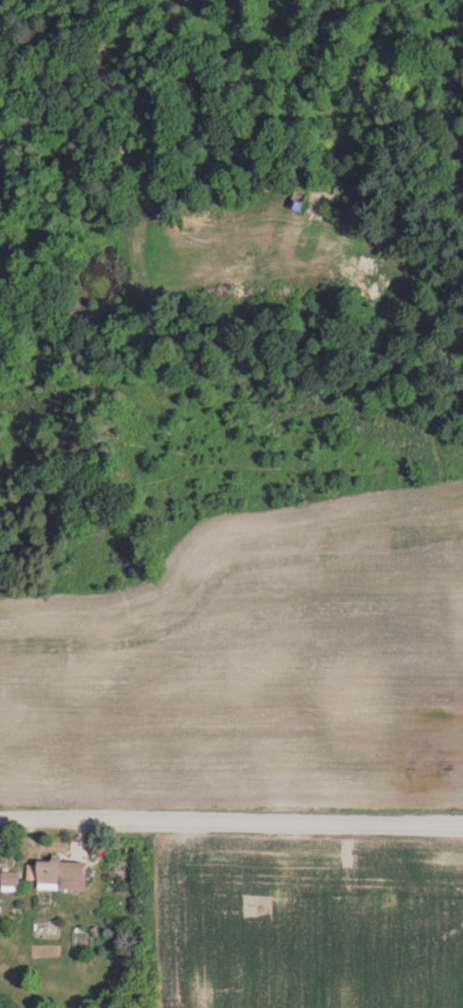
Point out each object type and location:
building: (299, 197)
road: (231, 824)
building: (60, 874)
building: (9, 880)

